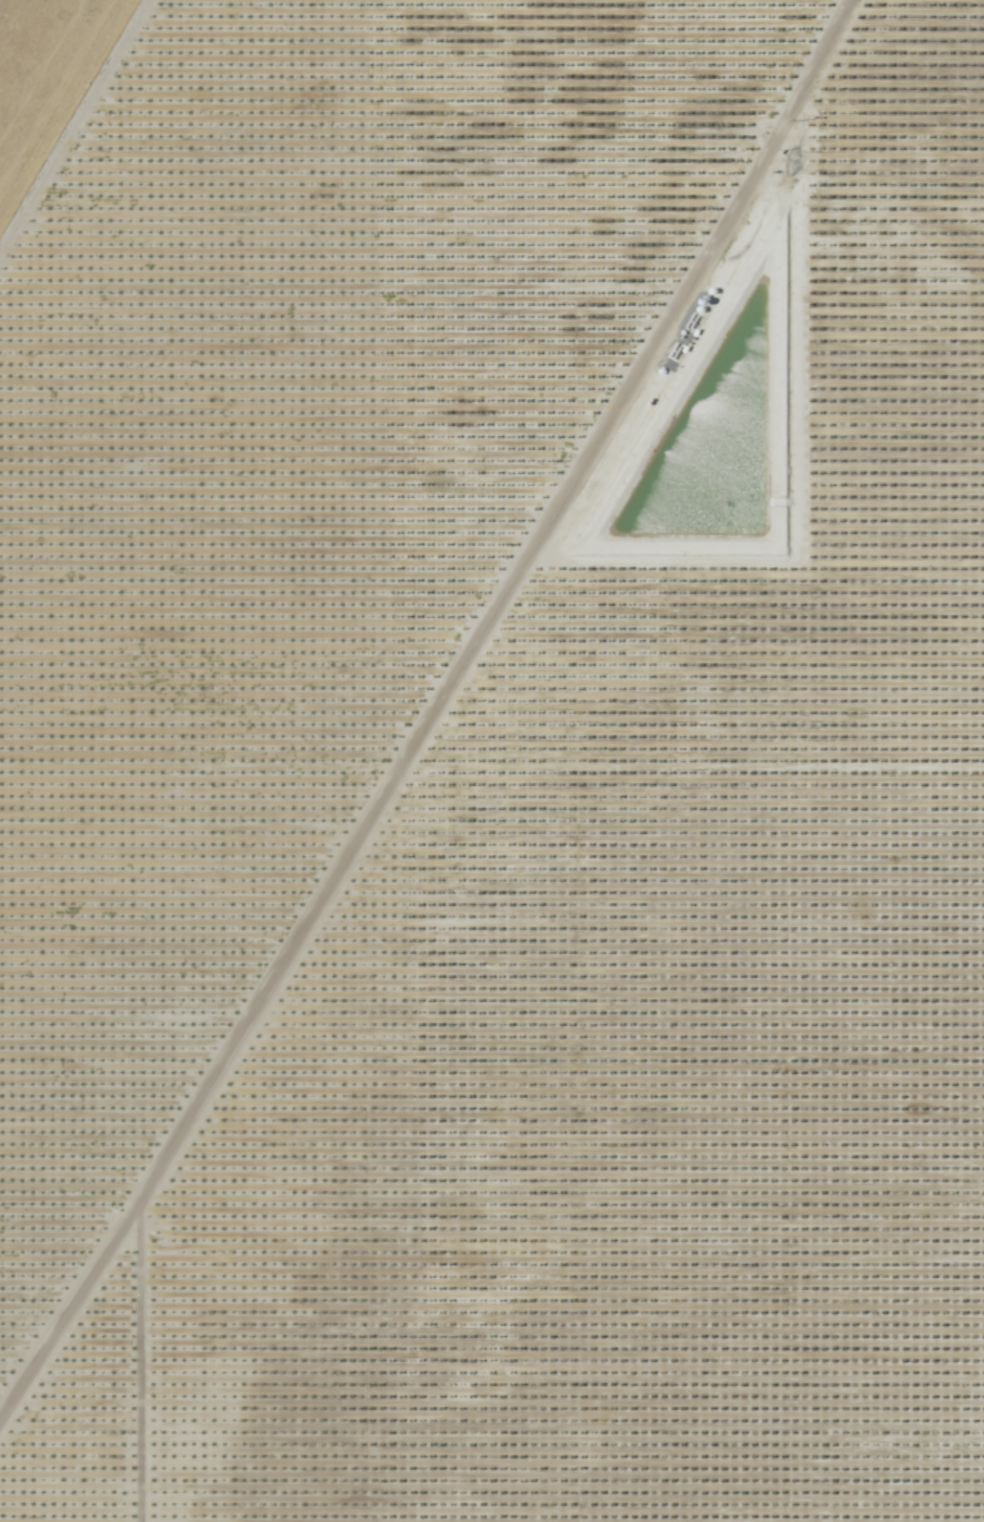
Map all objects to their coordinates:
crop: (42, 72)
crop: (496, 767)

